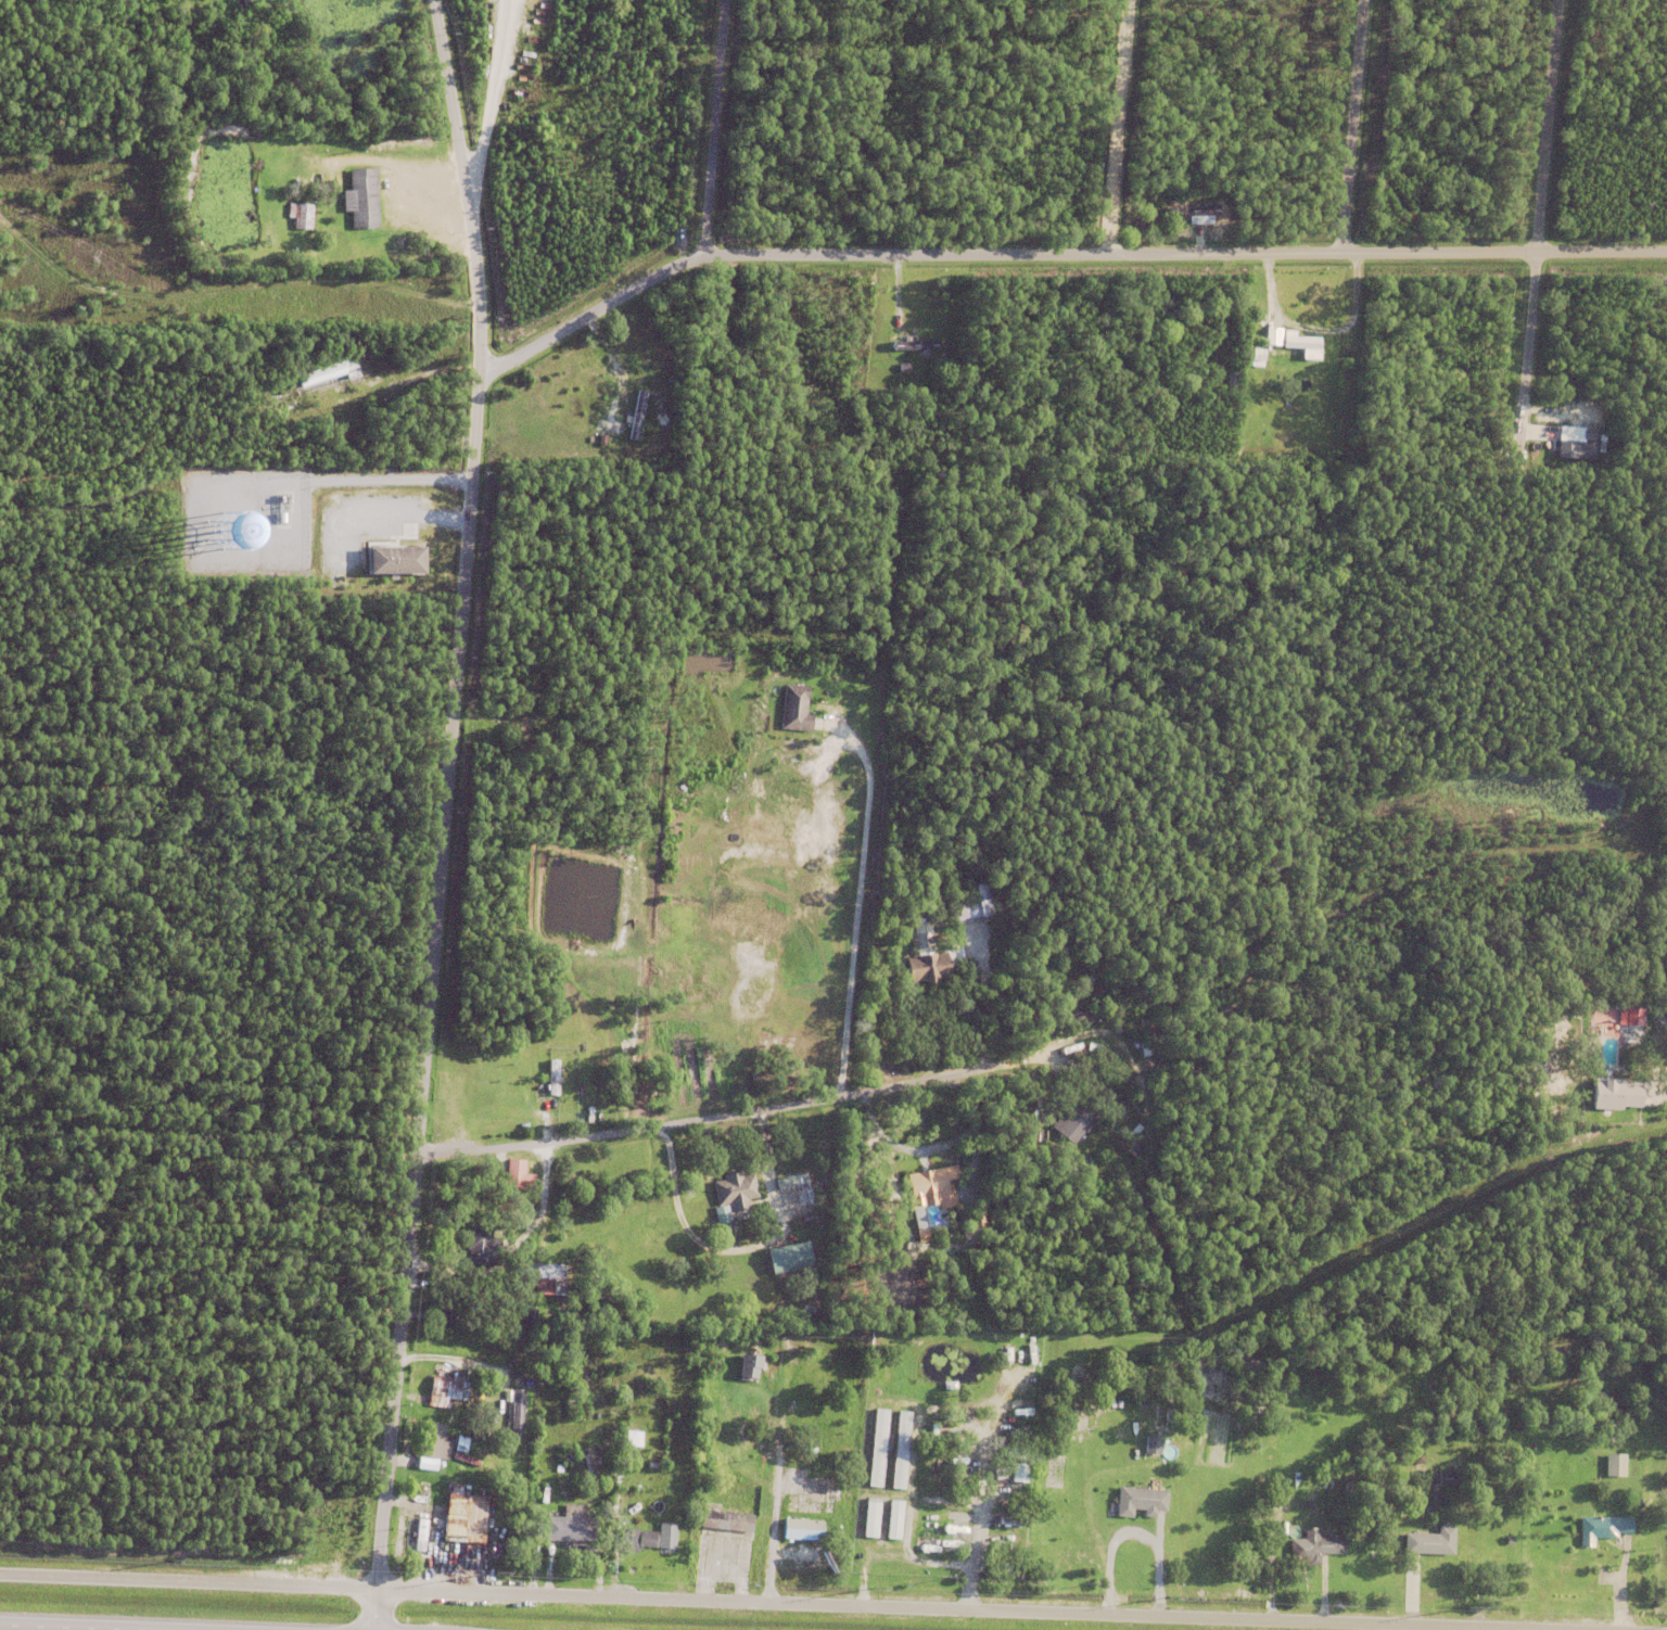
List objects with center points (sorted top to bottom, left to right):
building: (238, 7)
building: (195, 33)
road: (928, 40)
road: (1356, 125)
road: (714, 126)
road: (1123, 126)
building: (340, 183)
building: (364, 199)
building: (1401, 201)
building: (1377, 204)
building: (1193, 212)
building: (301, 216)
road: (1540, 224)
road: (1185, 253)
road: (590, 313)
building: (1235, 328)
building: (1300, 343)
building: (916, 344)
building: (1643, 351)
building: (1449, 352)
building: (1257, 357)
building: (602, 362)
building: (374, 365)
building: (328, 372)
building: (1231, 381)
building: (587, 398)
building: (1575, 402)
building: (637, 416)
building: (1569, 437)
building: (602, 441)
building: (1569, 450)
building: (1548, 453)
building: (397, 560)
building: (794, 709)
road: (445, 814)
building: (966, 909)
building: (984, 912)
building: (921, 939)
road: (1662, 958)
building: (928, 968)
building: (1619, 1018)
building: (758, 1034)
building: (771, 1041)
building: (1093, 1048)
building: (598, 1059)
road: (1040, 1062)
building: (1642, 1075)
building: (553, 1079)
building: (505, 1080)
building: (516, 1081)
road: (870, 1090)
building: (1614, 1096)
building: (1072, 1122)
building: (511, 1173)
building: (929, 1183)
building: (792, 1187)
building: (729, 1188)
building: (991, 1197)
building: (971, 1215)
building: (722, 1217)
building: (914, 1221)
building: (925, 1232)
building: (475, 1245)
building: (784, 1257)
building: (520, 1269)
building: (543, 1278)
building: (437, 1312)
building: (521, 1313)
building: (749, 1352)
building: (440, 1386)
building: (487, 1398)
building: (1138, 1403)
building: (951, 1408)
building: (510, 1412)
building: (516, 1413)
building: (633, 1438)
building: (424, 1443)
building: (1148, 1444)
building: (873, 1448)
building: (895, 1450)
building: (460, 1456)
building: (1413, 1457)
building: (568, 1459)
building: (1615, 1464)
building: (993, 1470)
building: (1557, 1470)
building: (1015, 1472)
building: (1434, 1483)
building: (1135, 1501)
building: (457, 1517)
building: (866, 1517)
building: (330, 1518)
building: (720, 1519)
building: (890, 1519)
building: (565, 1526)
building: (1596, 1528)
building: (798, 1530)
road: (774, 1531)
building: (413, 1533)
building: (663, 1536)
building: (624, 1538)
building: (642, 1539)
building: (1505, 1539)
building: (1425, 1542)
building: (1309, 1546)
road: (772, 1603)
road: (85, 1627)
road: (1515, 1629)

